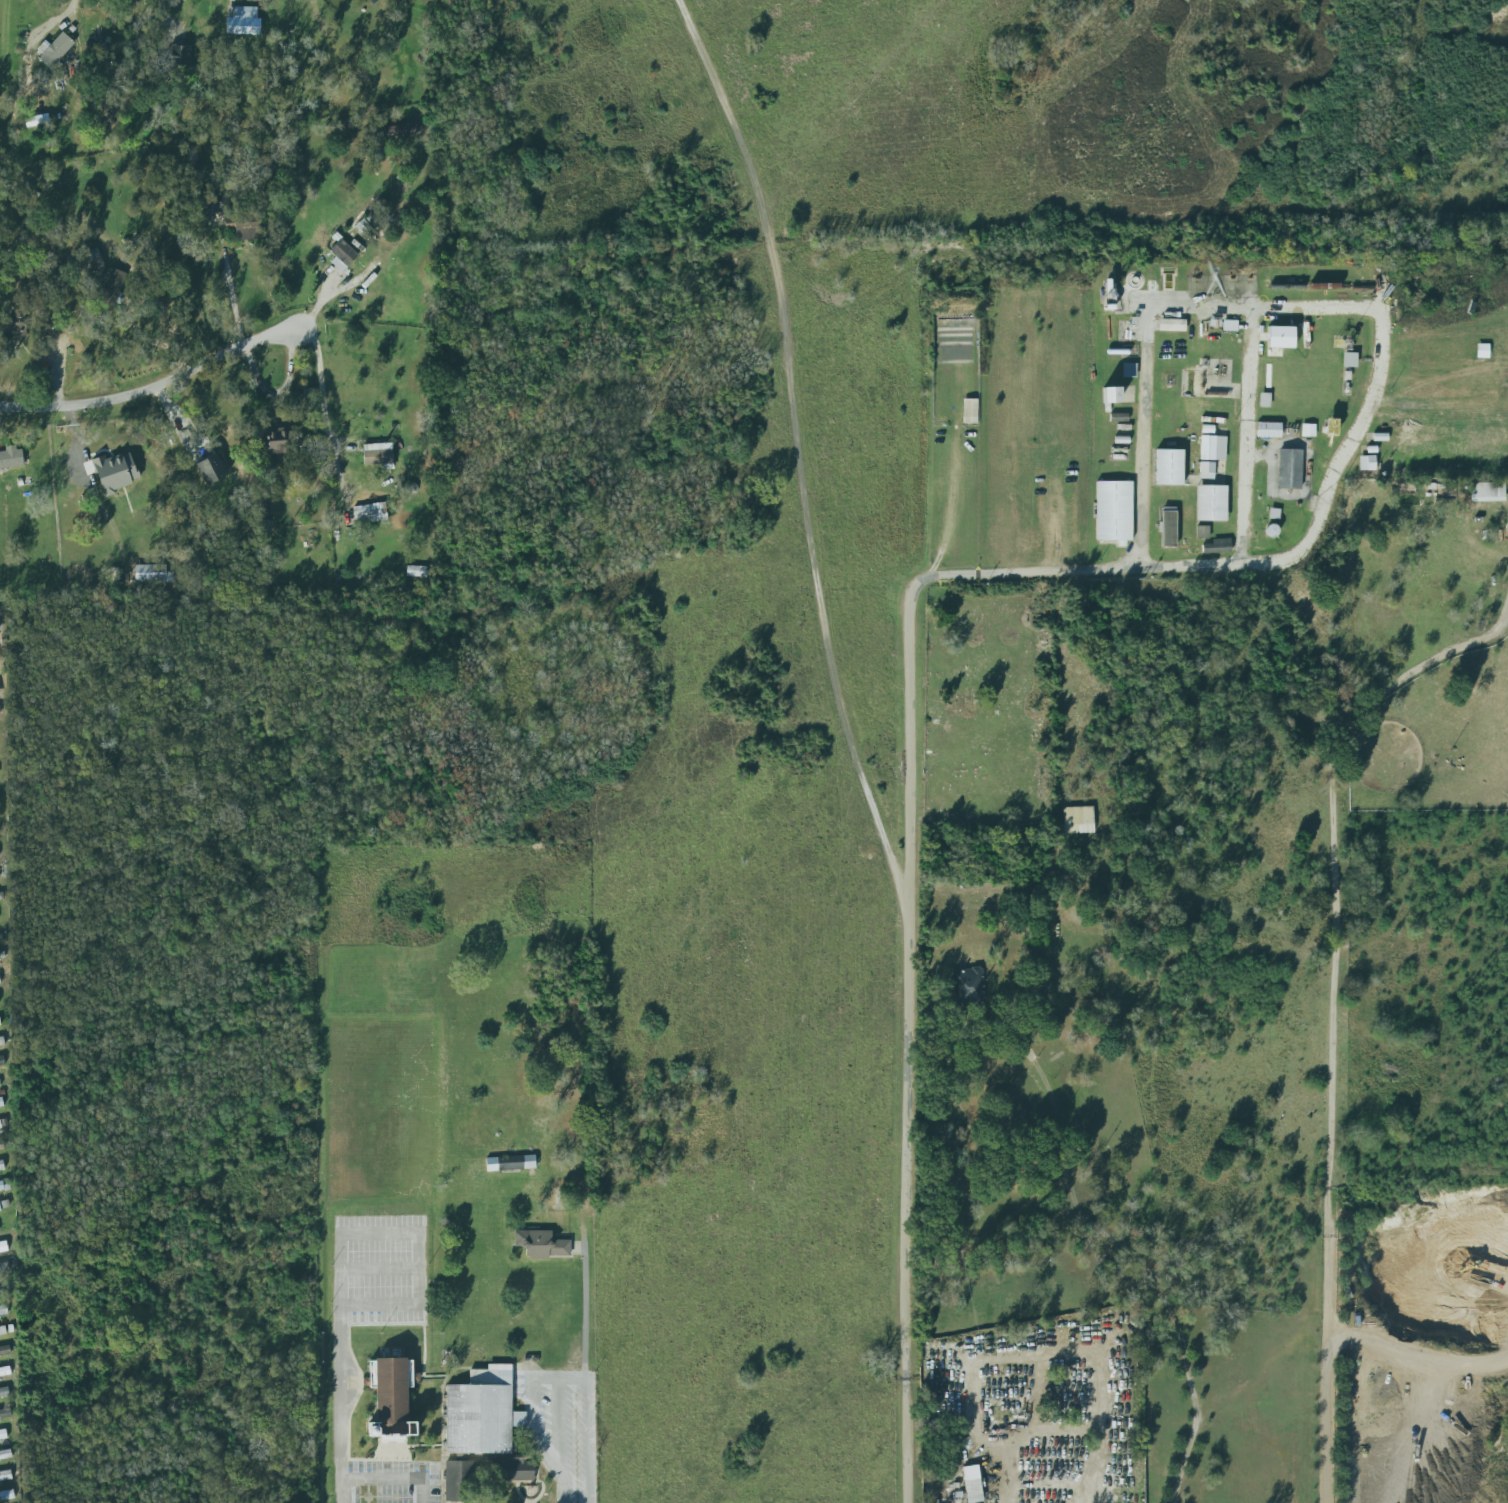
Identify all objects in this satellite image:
road: (71, 8)
building: (242, 21)
building: (54, 49)
building: (180, 54)
building: (400, 130)
building: (342, 255)
building: (111, 288)
road: (231, 299)
building: (17, 324)
building: (1171, 325)
road: (170, 329)
building: (1280, 337)
building: (1482, 351)
building: (1349, 360)
building: (1129, 370)
road: (154, 385)
road: (1230, 391)
building: (1264, 400)
road: (1143, 404)
road: (324, 409)
building: (970, 411)
building: (1331, 427)
building: (1268, 430)
building: (1308, 430)
road: (1251, 436)
building: (277, 441)
building: (1212, 448)
road: (805, 451)
building: (377, 454)
building: (1119, 454)
building: (11, 459)
building: (1367, 463)
building: (1169, 467)
building: (211, 469)
building: (1289, 469)
building: (1206, 470)
building: (115, 472)
building: (1487, 492)
building: (1211, 503)
building: (1114, 511)
building: (369, 513)
building: (1168, 527)
building: (1202, 532)
building: (1217, 546)
building: (416, 571)
building: (152, 574)
road: (909, 627)
road: (1396, 680)
park: (984, 704)
building: (1078, 820)
building: (0, 983)
building: (967, 986)
building: (0, 1025)
building: (1, 1041)
building: (1, 1061)
building: (1, 1102)
building: (3, 1122)
building: (1, 1144)
road: (1327, 1149)
building: (510, 1163)
building: (1, 1167)
building: (1, 1185)
building: (0, 1210)
building: (541, 1242)
road: (379, 1267)
road: (421, 1267)
building: (4, 1271)
road: (1145, 1271)
building: (3, 1311)
road: (578, 1320)
building: (10, 1328)
building: (3, 1329)
building: (5, 1348)
road: (1417, 1352)
road: (339, 1368)
building: (4, 1373)
road: (552, 1378)
building: (4, 1391)
building: (391, 1397)
building: (5, 1412)
building: (482, 1413)
road: (560, 1427)
building: (2, 1434)
building: (5, 1455)
building: (514, 1469)
building: (5, 1477)
road: (393, 1479)
road: (999, 1479)
building: (459, 1481)
building: (972, 1484)
building: (6, 1495)

